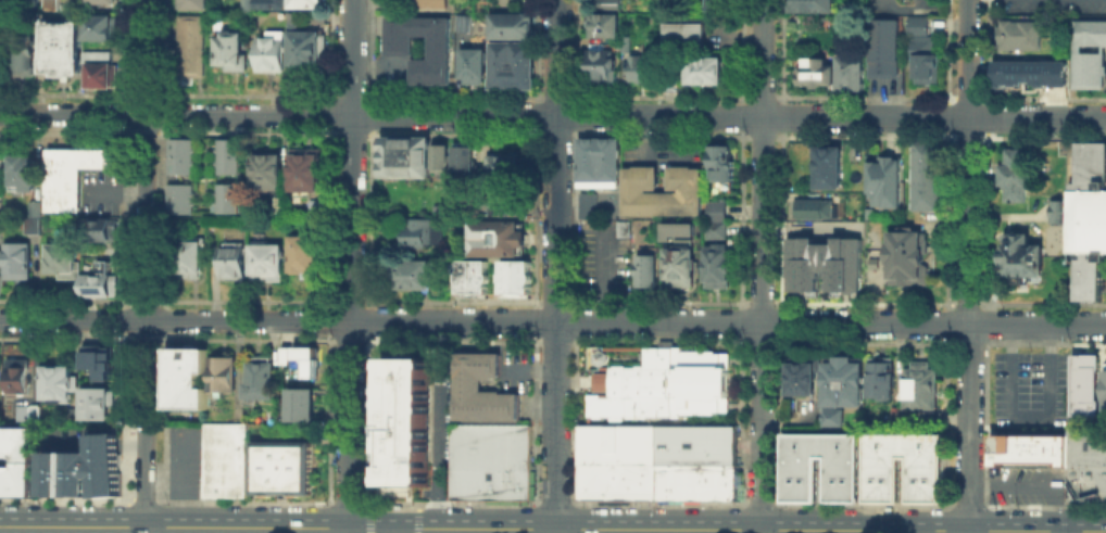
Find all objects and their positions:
building: (99, 1)
building: (21, 2)
building: (430, 2)
building: (720, 2)
parking lot: (906, 2)
building: (272, 3)
building: (194, 5)
building: (310, 5)
building: (606, 5)
building: (815, 7)
parking lot: (1050, 7)
building: (465, 25)
building: (512, 28)
building: (606, 28)
building: (101, 29)
building: (687, 37)
building: (1021, 37)
building: (401, 47)
building: (64, 48)
building: (194, 48)
building: (887, 51)
building: (234, 52)
building: (273, 52)
building: (309, 52)
building: (925, 52)
building: (1089, 52)
building: (23, 58)
building: (603, 65)
building: (474, 66)
building: (514, 67)
building: (643, 69)
building: (101, 72)
building: (818, 73)
building: (707, 74)
building: (853, 75)
building: (1031, 75)
road: (552, 115)
building: (181, 152)
building: (230, 153)
building: (406, 158)
building: (443, 160)
building: (467, 161)
building: (598, 161)
building: (719, 164)
building: (827, 165)
building: (506, 168)
building: (307, 173)
building: (269, 174)
building: (27, 176)
building: (1016, 176)
building: (75, 177)
building: (928, 177)
building: (888, 181)
road: (117, 189)
building: (633, 189)
building: (183, 194)
building: (230, 195)
building: (1088, 199)
building: (506, 201)
building: (587, 204)
building: (815, 206)
building: (715, 210)
building: (1056, 211)
building: (448, 212)
building: (1047, 214)
building: (35, 218)
building: (103, 229)
building: (715, 229)
building: (1, 231)
building: (419, 233)
building: (494, 237)
building: (906, 257)
parking lot: (603, 258)
building: (1026, 258)
building: (1, 259)
building: (65, 259)
building: (269, 261)
building: (21, 262)
building: (235, 262)
building: (306, 262)
building: (680, 262)
road: (146, 263)
building: (190, 263)
building: (821, 263)
road: (351, 264)
road: (555, 264)
building: (716, 264)
road: (762, 264)
road: (968, 264)
building: (412, 272)
road: (603, 272)
building: (1086, 272)
building: (649, 274)
building: (472, 278)
building: (515, 278)
building: (103, 279)
building: (1, 285)
road: (553, 320)
building: (286, 354)
building: (98, 359)
building: (304, 360)
building: (1084, 367)
building: (222, 372)
building: (16, 375)
building: (185, 377)
building: (804, 378)
building: (259, 379)
building: (55, 380)
building: (883, 380)
building: (659, 382)
building: (840, 385)
building: (480, 389)
building: (920, 391)
building: (1104, 391)
building: (93, 402)
building: (301, 404)
building: (30, 415)
road: (1028, 416)
building: (404, 420)
building: (618, 443)
building: (696, 444)
building: (223, 459)
building: (15, 460)
building: (492, 460)
building: (1081, 462)
building: (280, 467)
building: (81, 469)
building: (799, 479)
building: (923, 479)
building: (617, 480)
building: (696, 481)
road: (1031, 482)
road: (174, 526)
traffic signals: (364, 528)
road: (372, 528)
traffic signals: (419, 528)
road: (751, 529)
road: (395, 530)
road: (890, 531)
road: (1056, 532)
road: (1092, 532)

